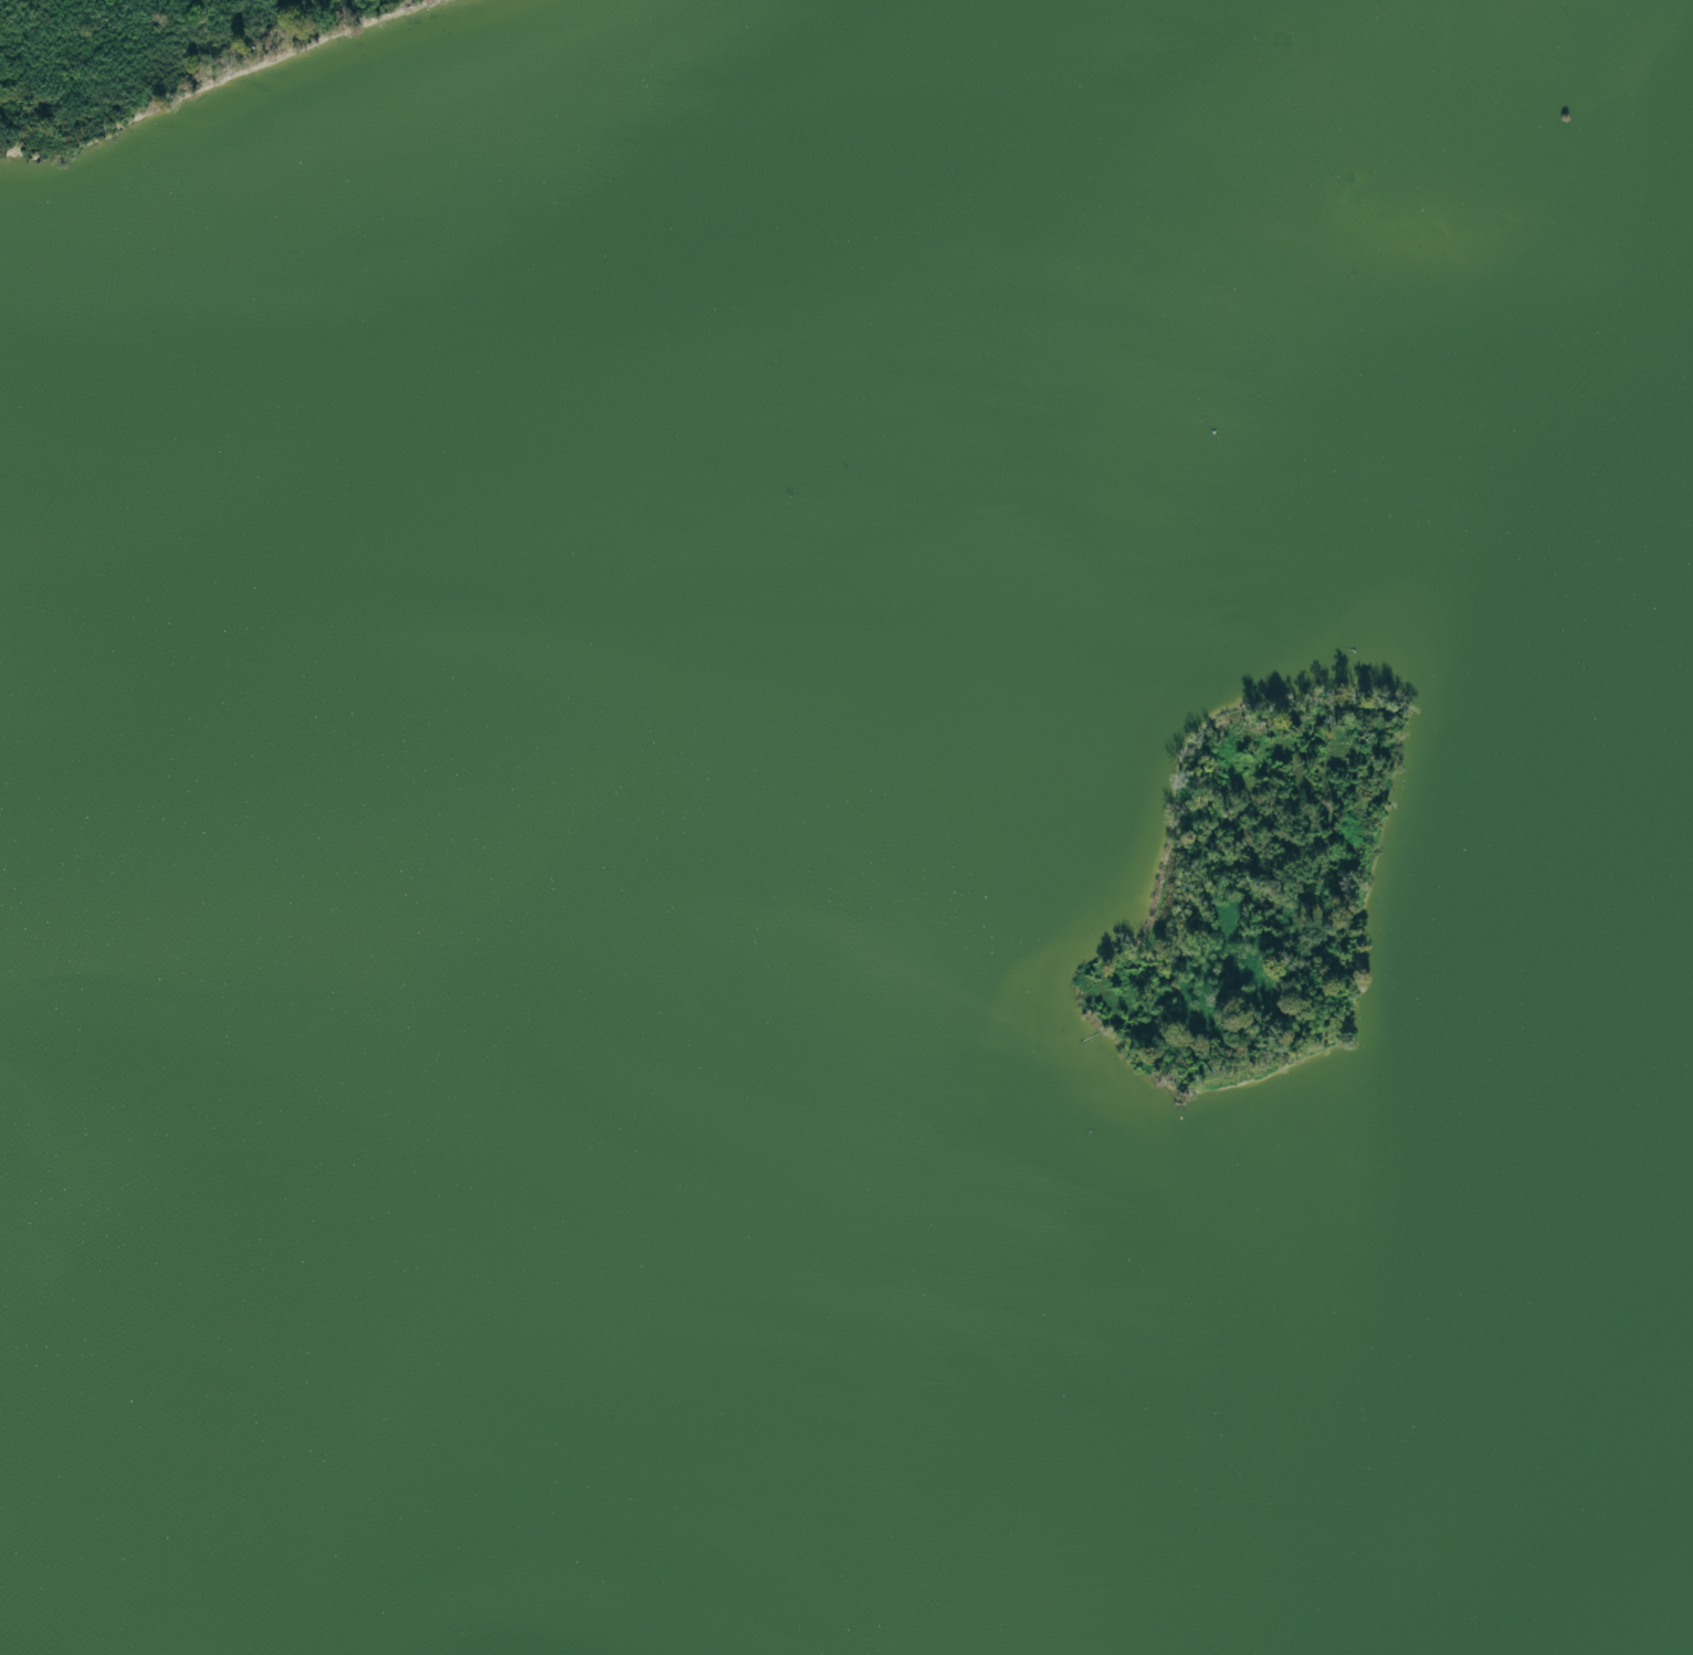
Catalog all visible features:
river: (120, 1426)

